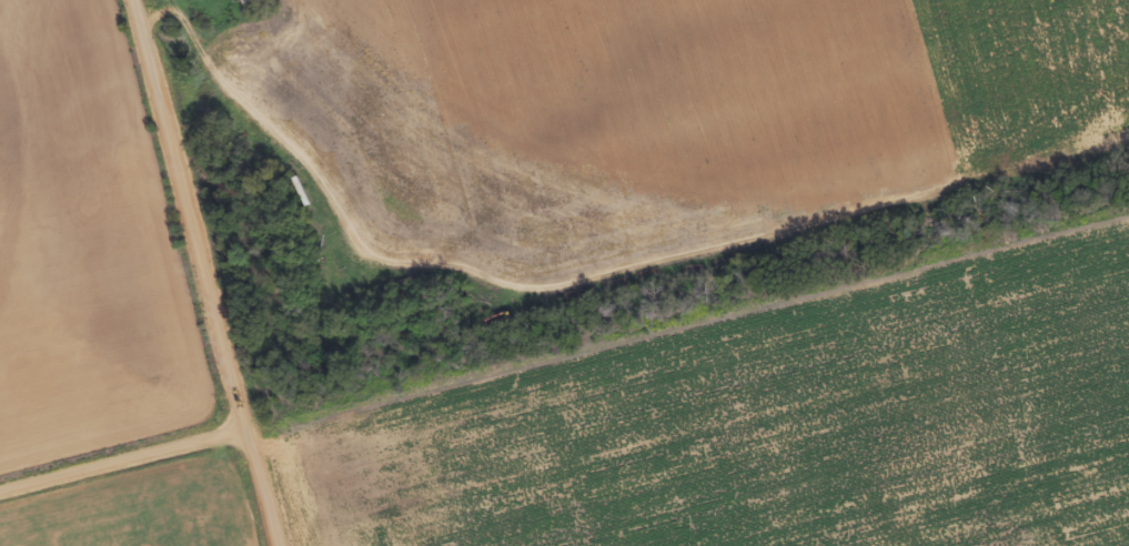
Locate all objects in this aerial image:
road: (205, 272)
road: (122, 456)

